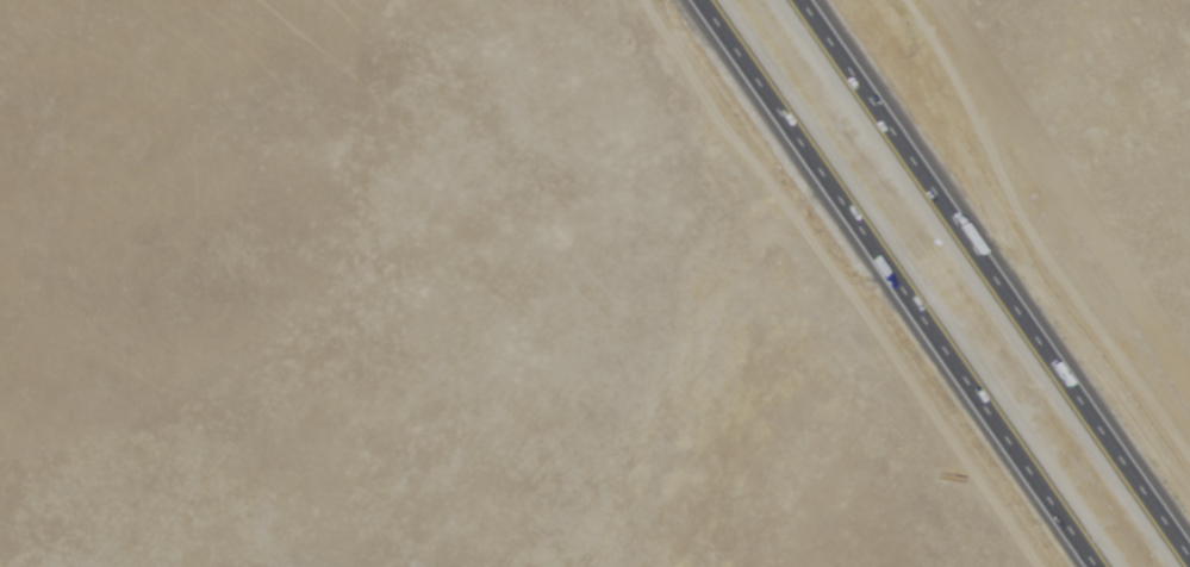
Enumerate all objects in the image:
crop: (1098, 131)
road: (1036, 232)
road: (1001, 278)
road: (847, 281)
road: (902, 283)

